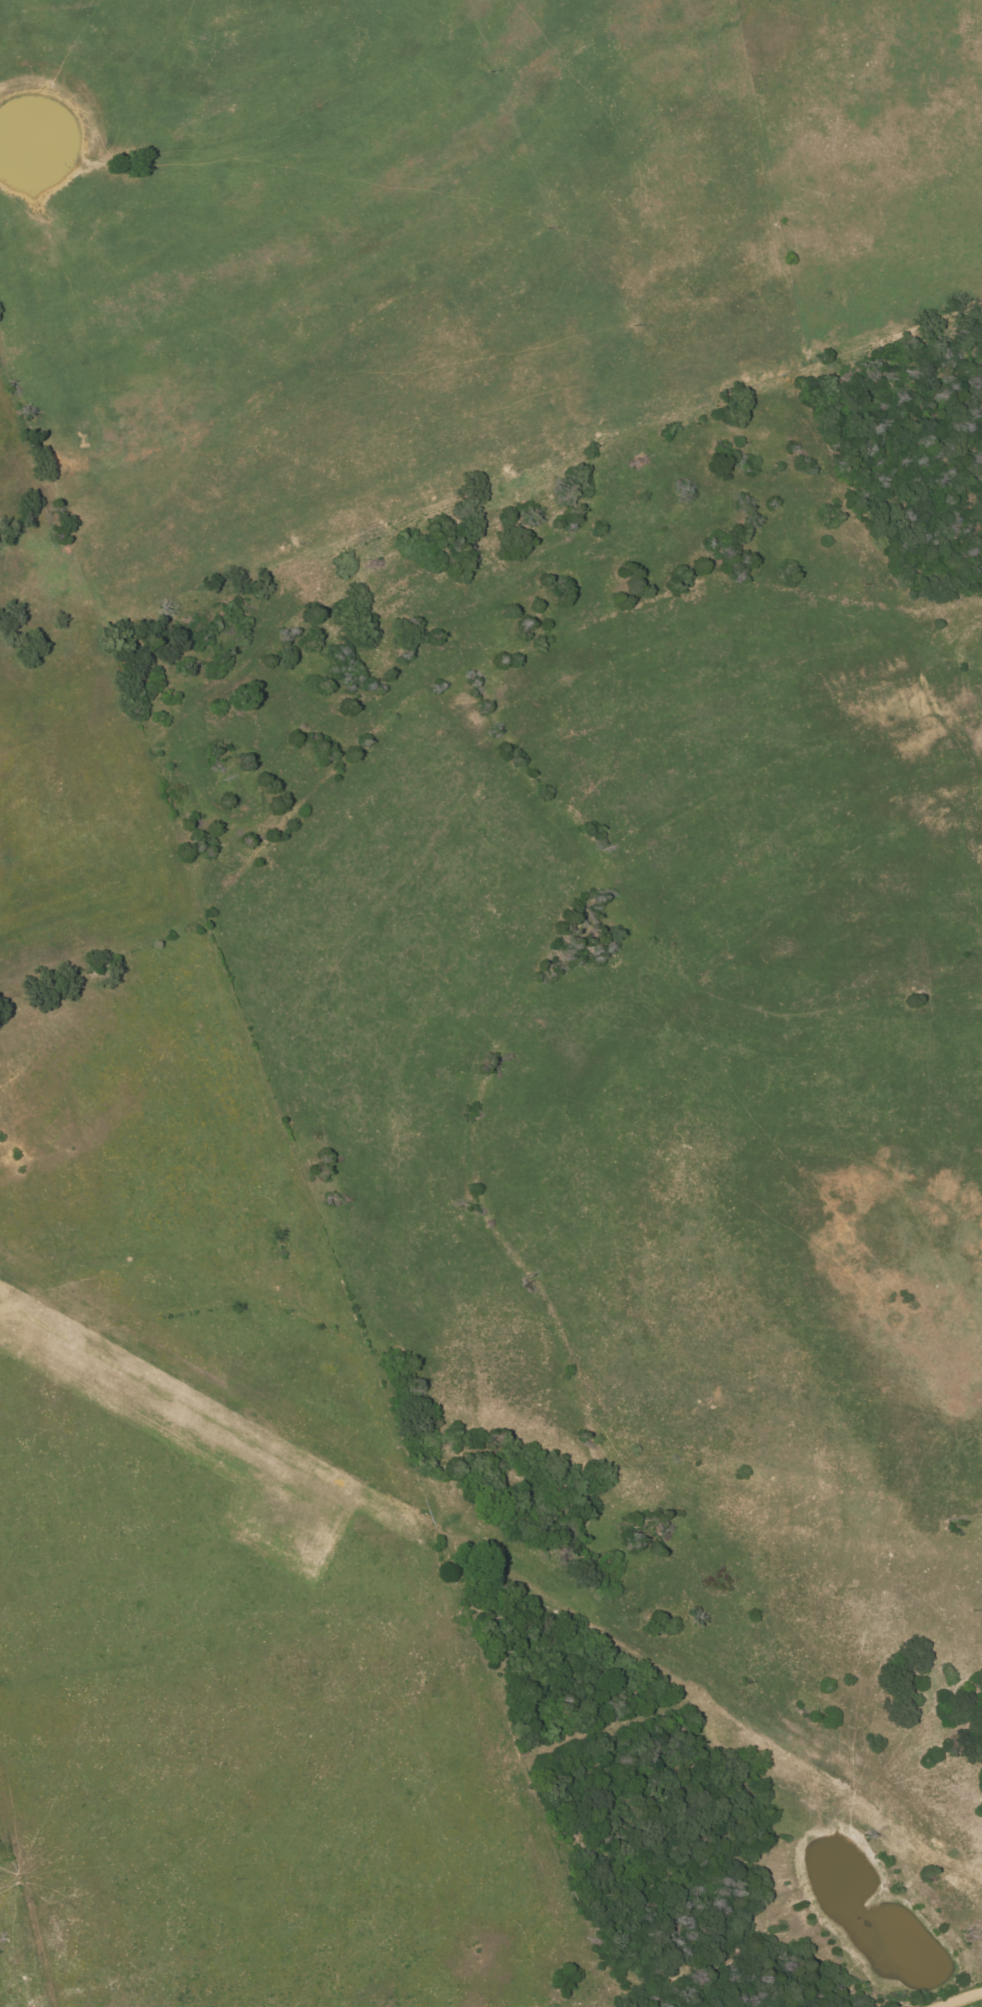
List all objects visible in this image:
road: (959, 1998)

